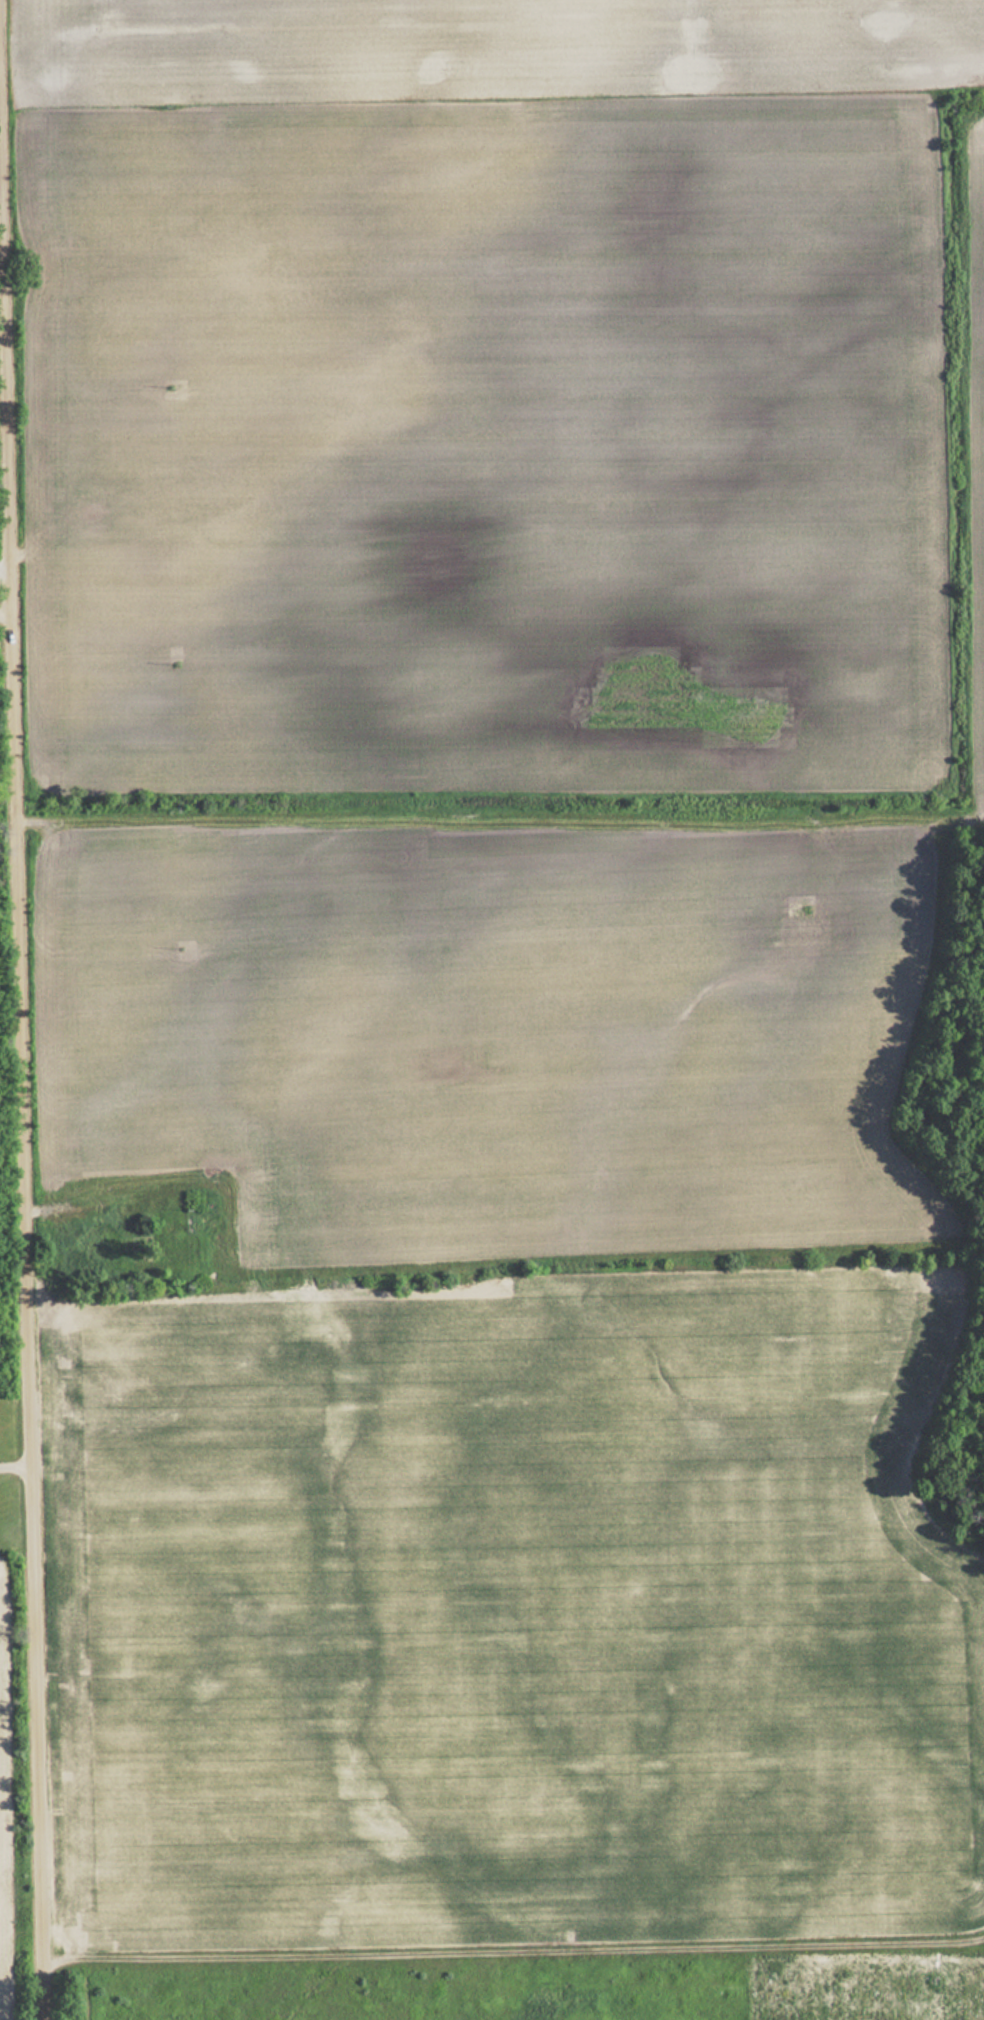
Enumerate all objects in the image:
road: (22, 1013)

